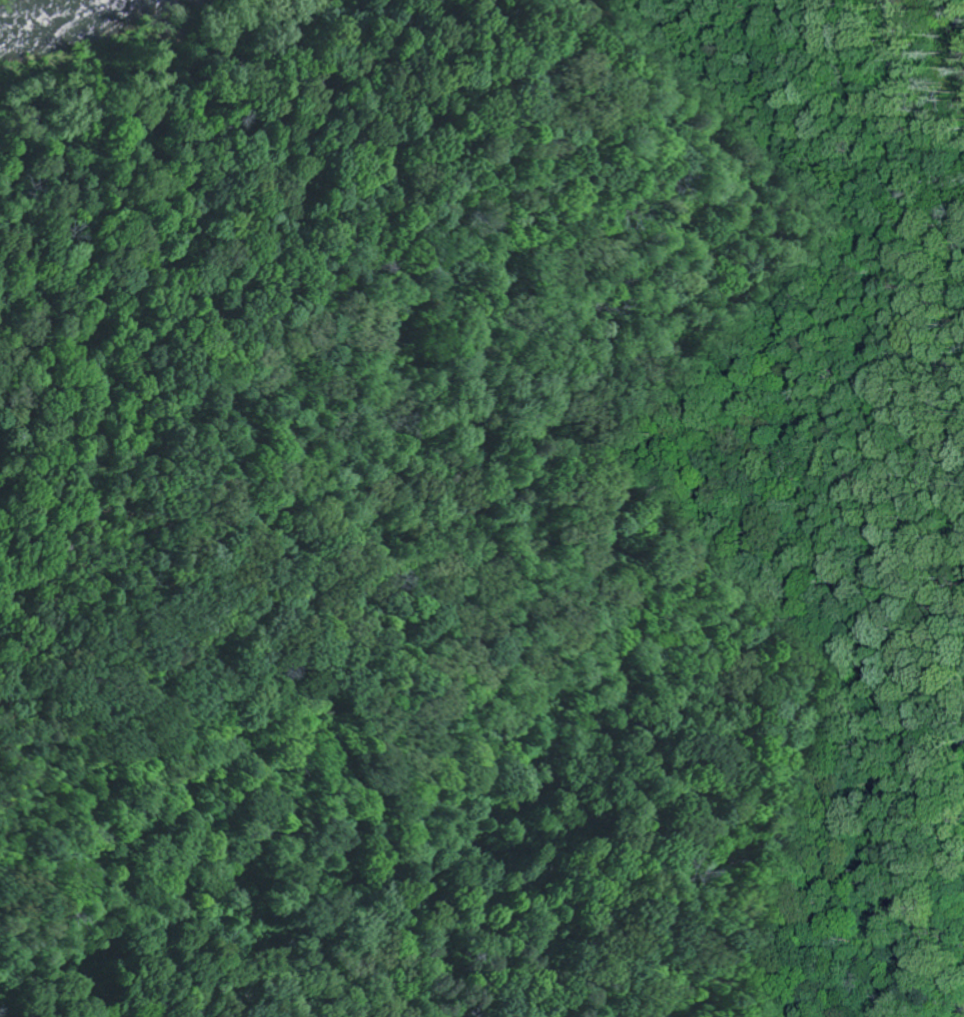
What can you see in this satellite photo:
river: (46, 14)

